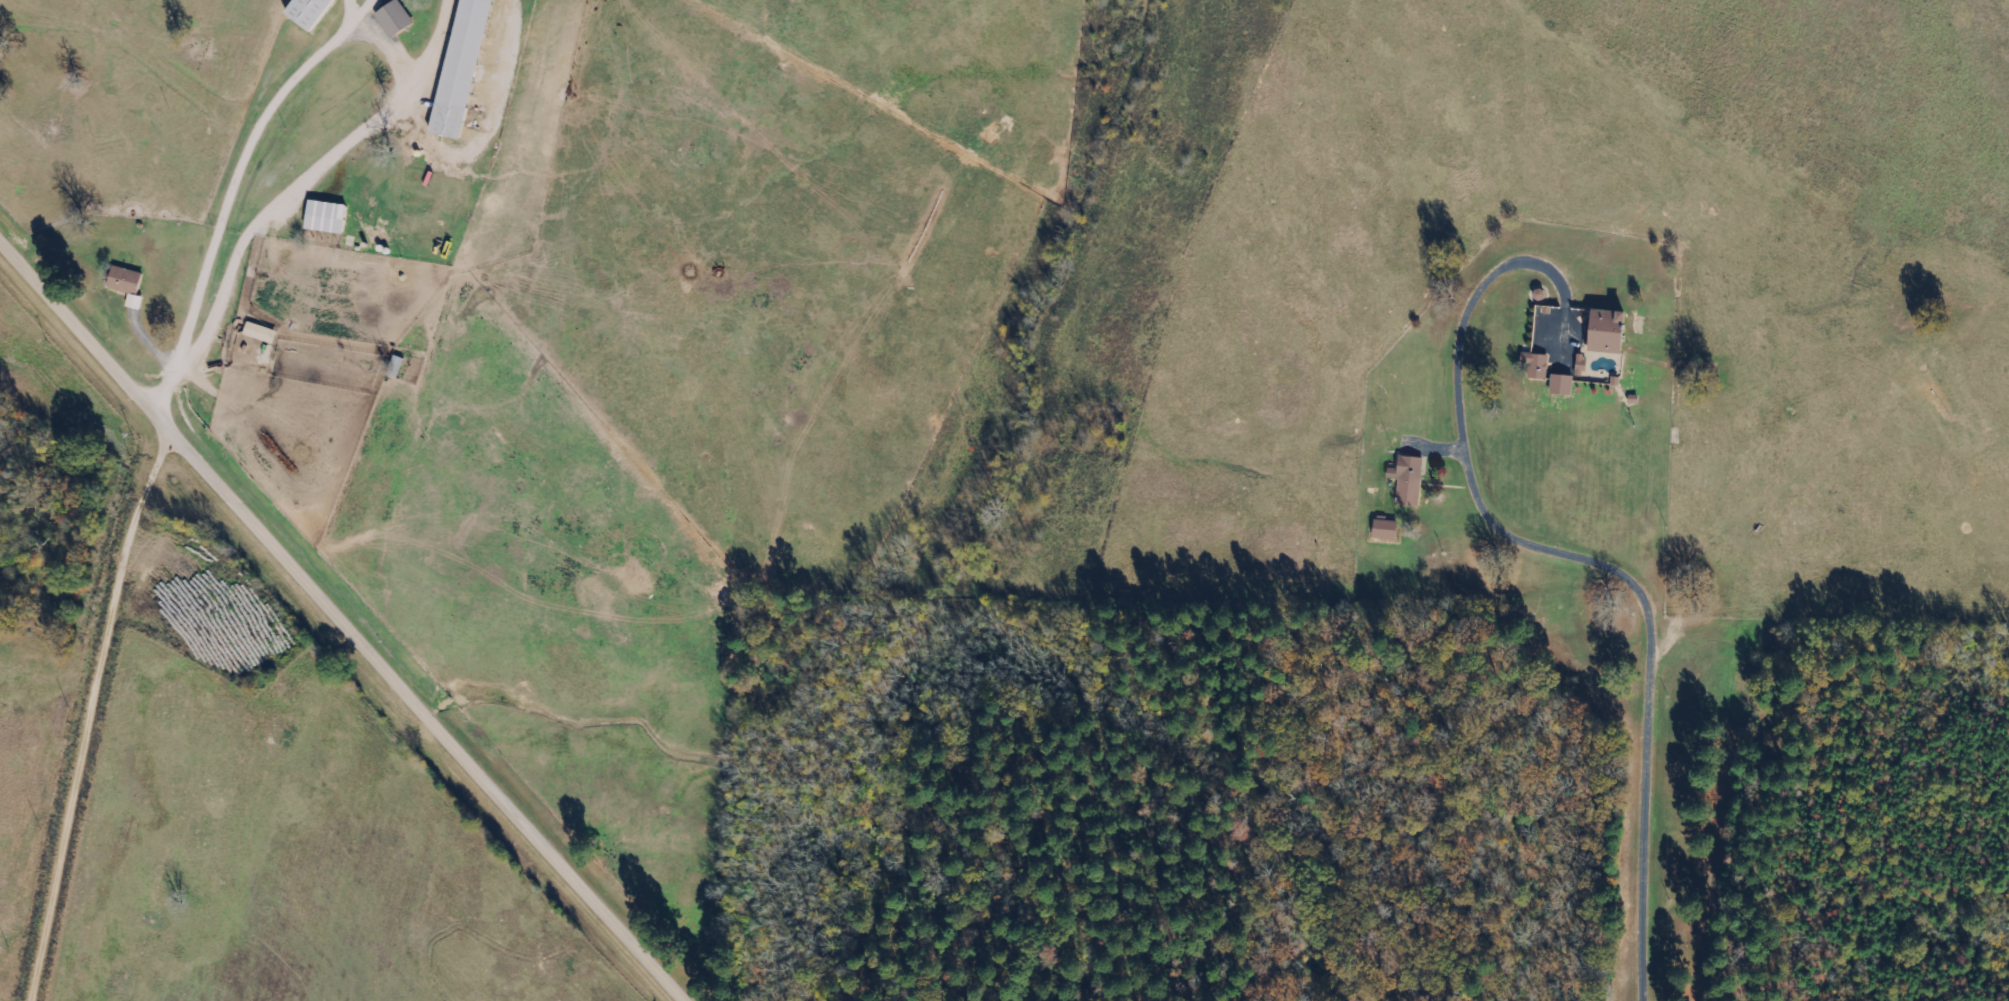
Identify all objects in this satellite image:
building: (311, 11)
building: (397, 17)
road: (109, 37)
road: (268, 42)
building: (465, 67)
building: (328, 215)
road: (222, 266)
building: (130, 283)
building: (1613, 330)
building: (263, 331)
building: (1541, 365)
building: (1565, 383)
building: (1411, 479)
park: (50, 509)
building: (1389, 528)
road: (341, 621)
road: (93, 717)

